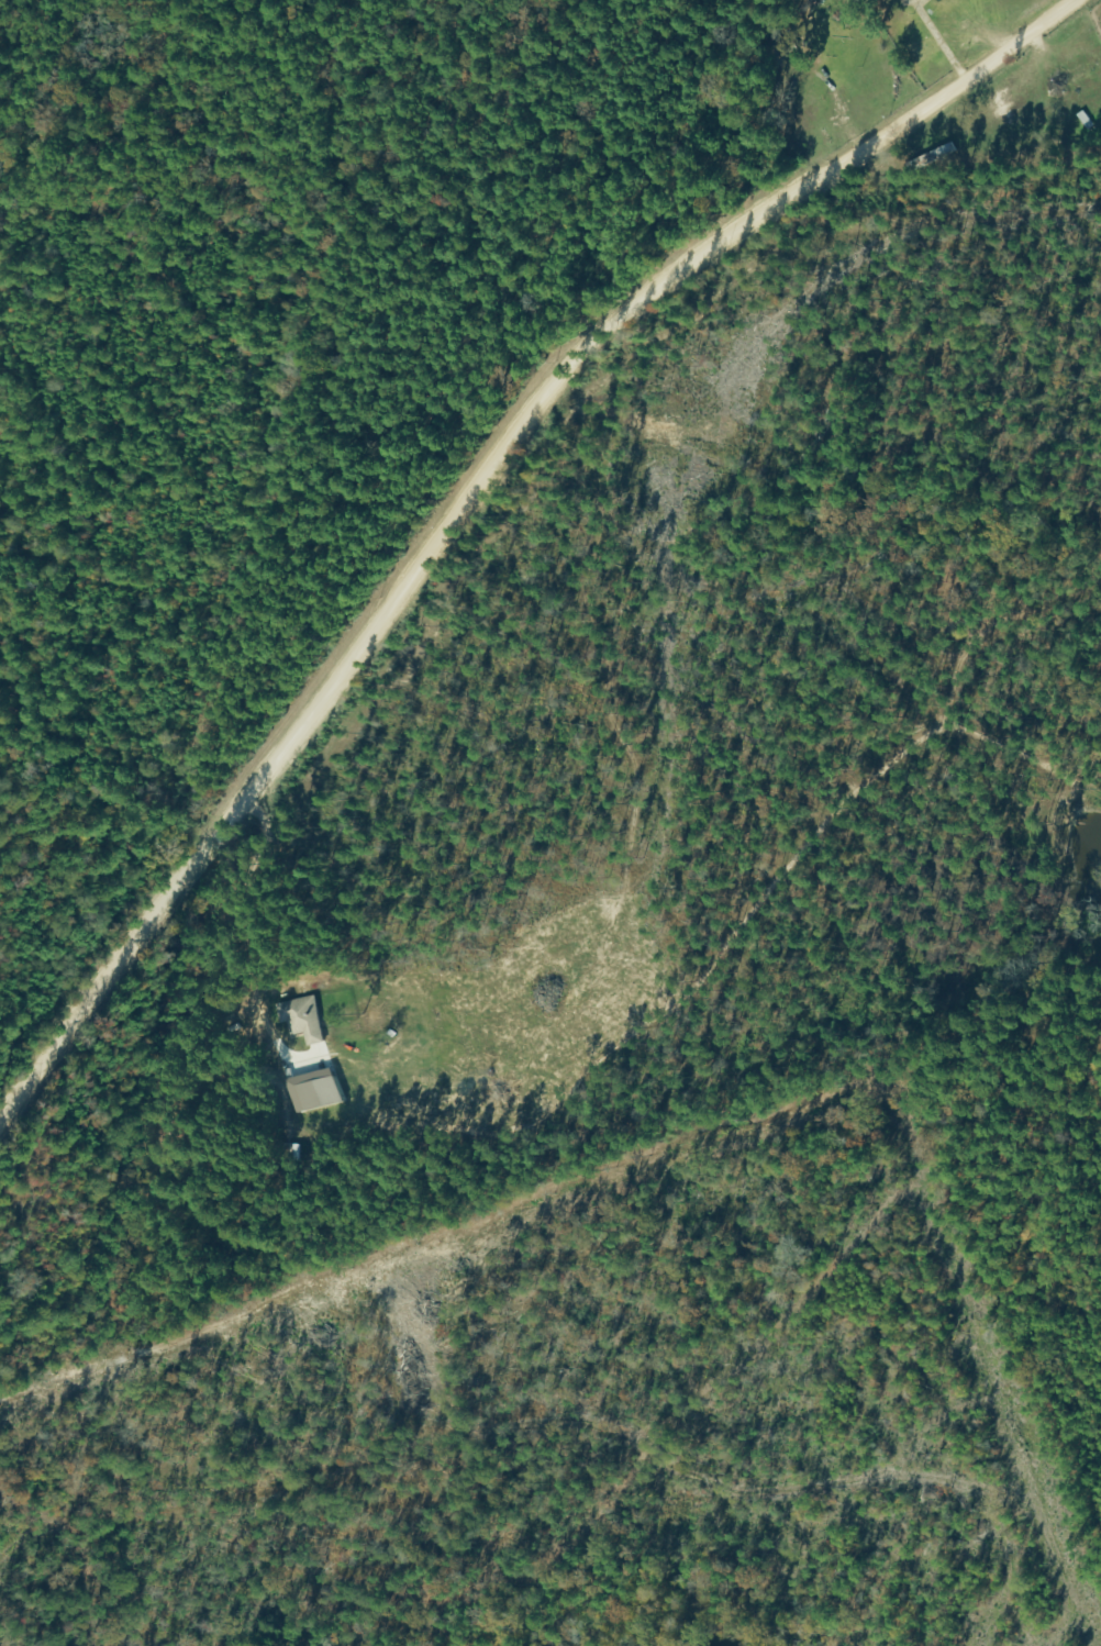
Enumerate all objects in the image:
building: (1068, 82)
road: (470, 497)
road: (212, 536)

